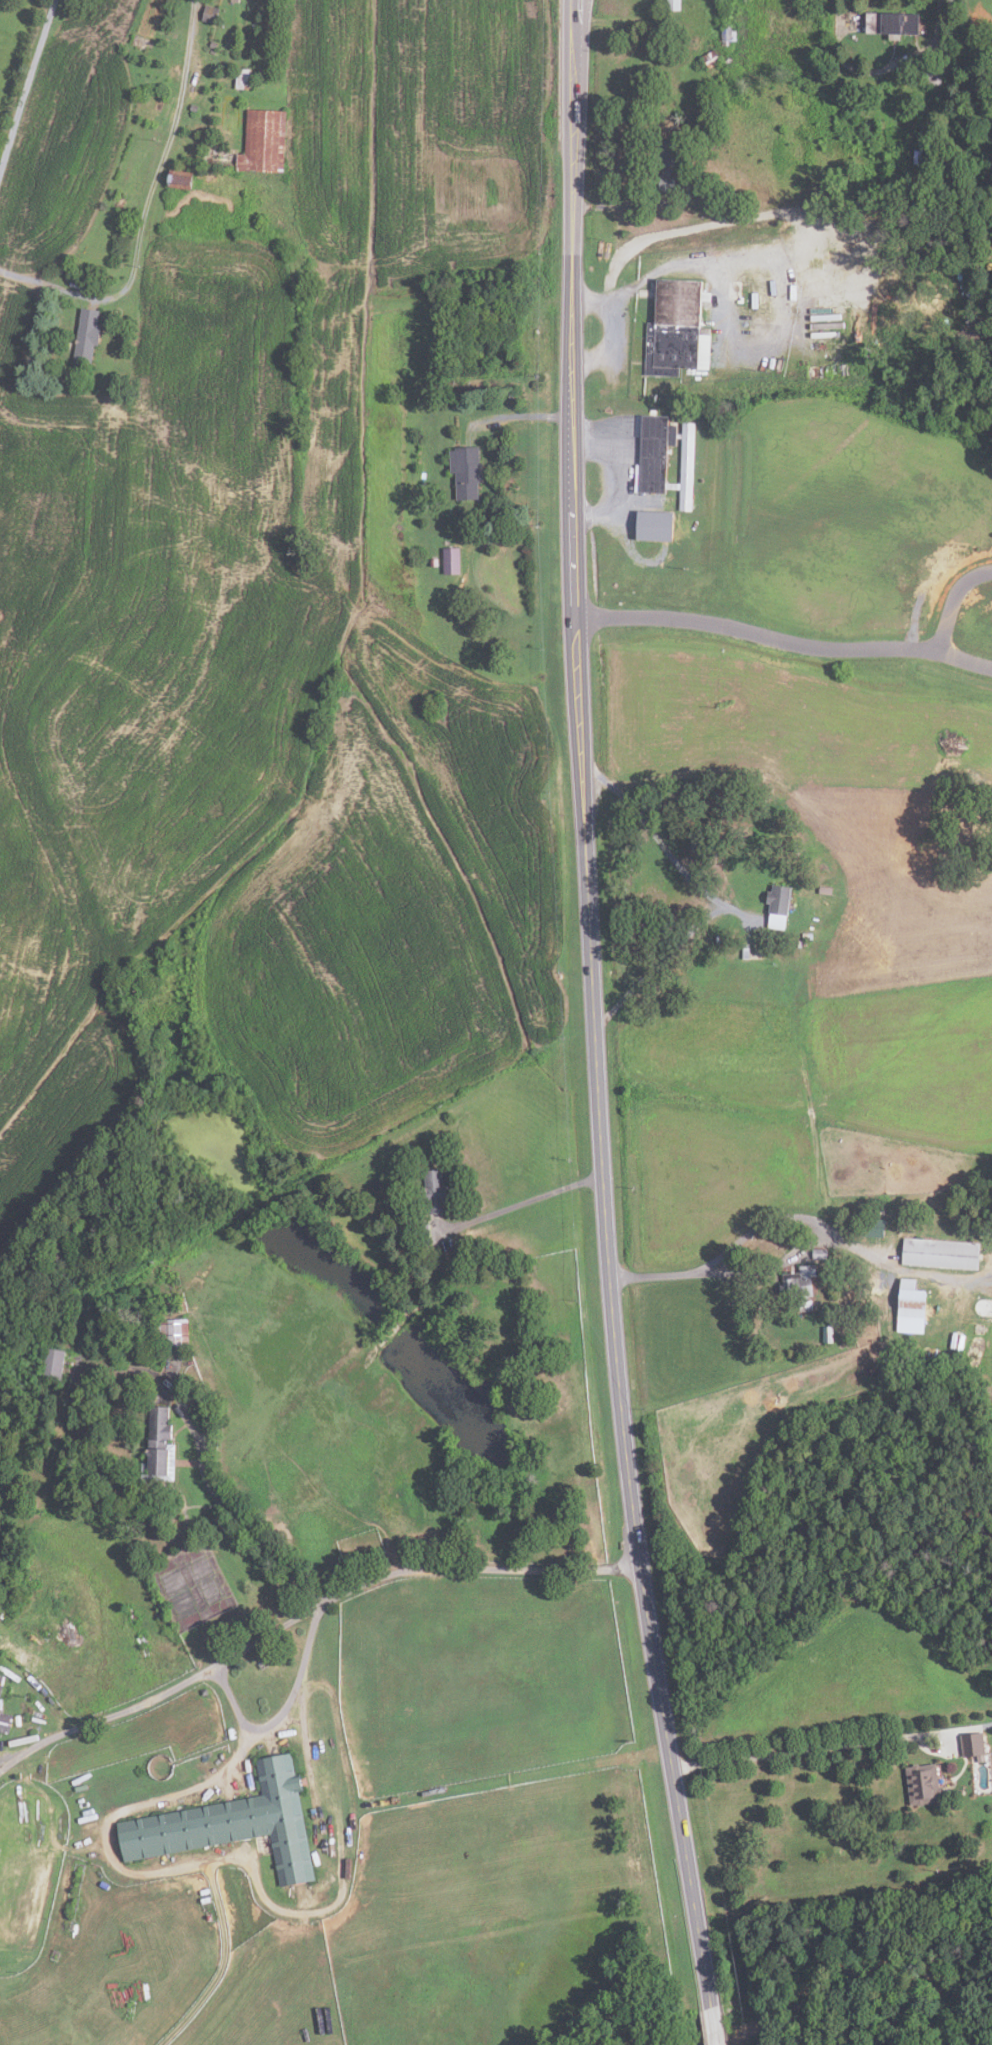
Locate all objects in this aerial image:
building: (673, 5)
building: (209, 14)
building: (892, 23)
building: (254, 26)
building: (727, 34)
building: (213, 45)
building: (212, 51)
building: (711, 59)
building: (728, 60)
road: (880, 68)
building: (242, 78)
building: (933, 78)
road: (25, 81)
building: (193, 107)
building: (264, 142)
road: (163, 151)
building: (917, 155)
building: (666, 164)
building: (181, 180)
building: (674, 331)
road: (612, 334)
building: (86, 336)
road: (522, 415)
building: (653, 451)
building: (683, 465)
building: (467, 472)
road: (617, 477)
building: (653, 501)
building: (653, 528)
park: (842, 559)
building: (451, 561)
building: (433, 562)
road: (942, 630)
road: (756, 636)
crop: (275, 643)
crop: (852, 872)
building: (825, 890)
road: (712, 897)
building: (779, 898)
building: (745, 950)
building: (805, 953)
road: (596, 1007)
building: (433, 1192)
road: (524, 1196)
building: (873, 1227)
building: (820, 1253)
building: (940, 1254)
road: (794, 1255)
building: (800, 1286)
building: (912, 1301)
building: (172, 1331)
building: (827, 1333)
building: (53, 1362)
building: (158, 1447)
building: (951, 1517)
road: (244, 1525)
road: (305, 1611)
building: (1, 1682)
road: (279, 1712)
building: (4, 1719)
road: (949, 1730)
building: (973, 1744)
road: (802, 1745)
building: (924, 1784)
building: (233, 1825)
road: (154, 1873)
road: (715, 2026)

